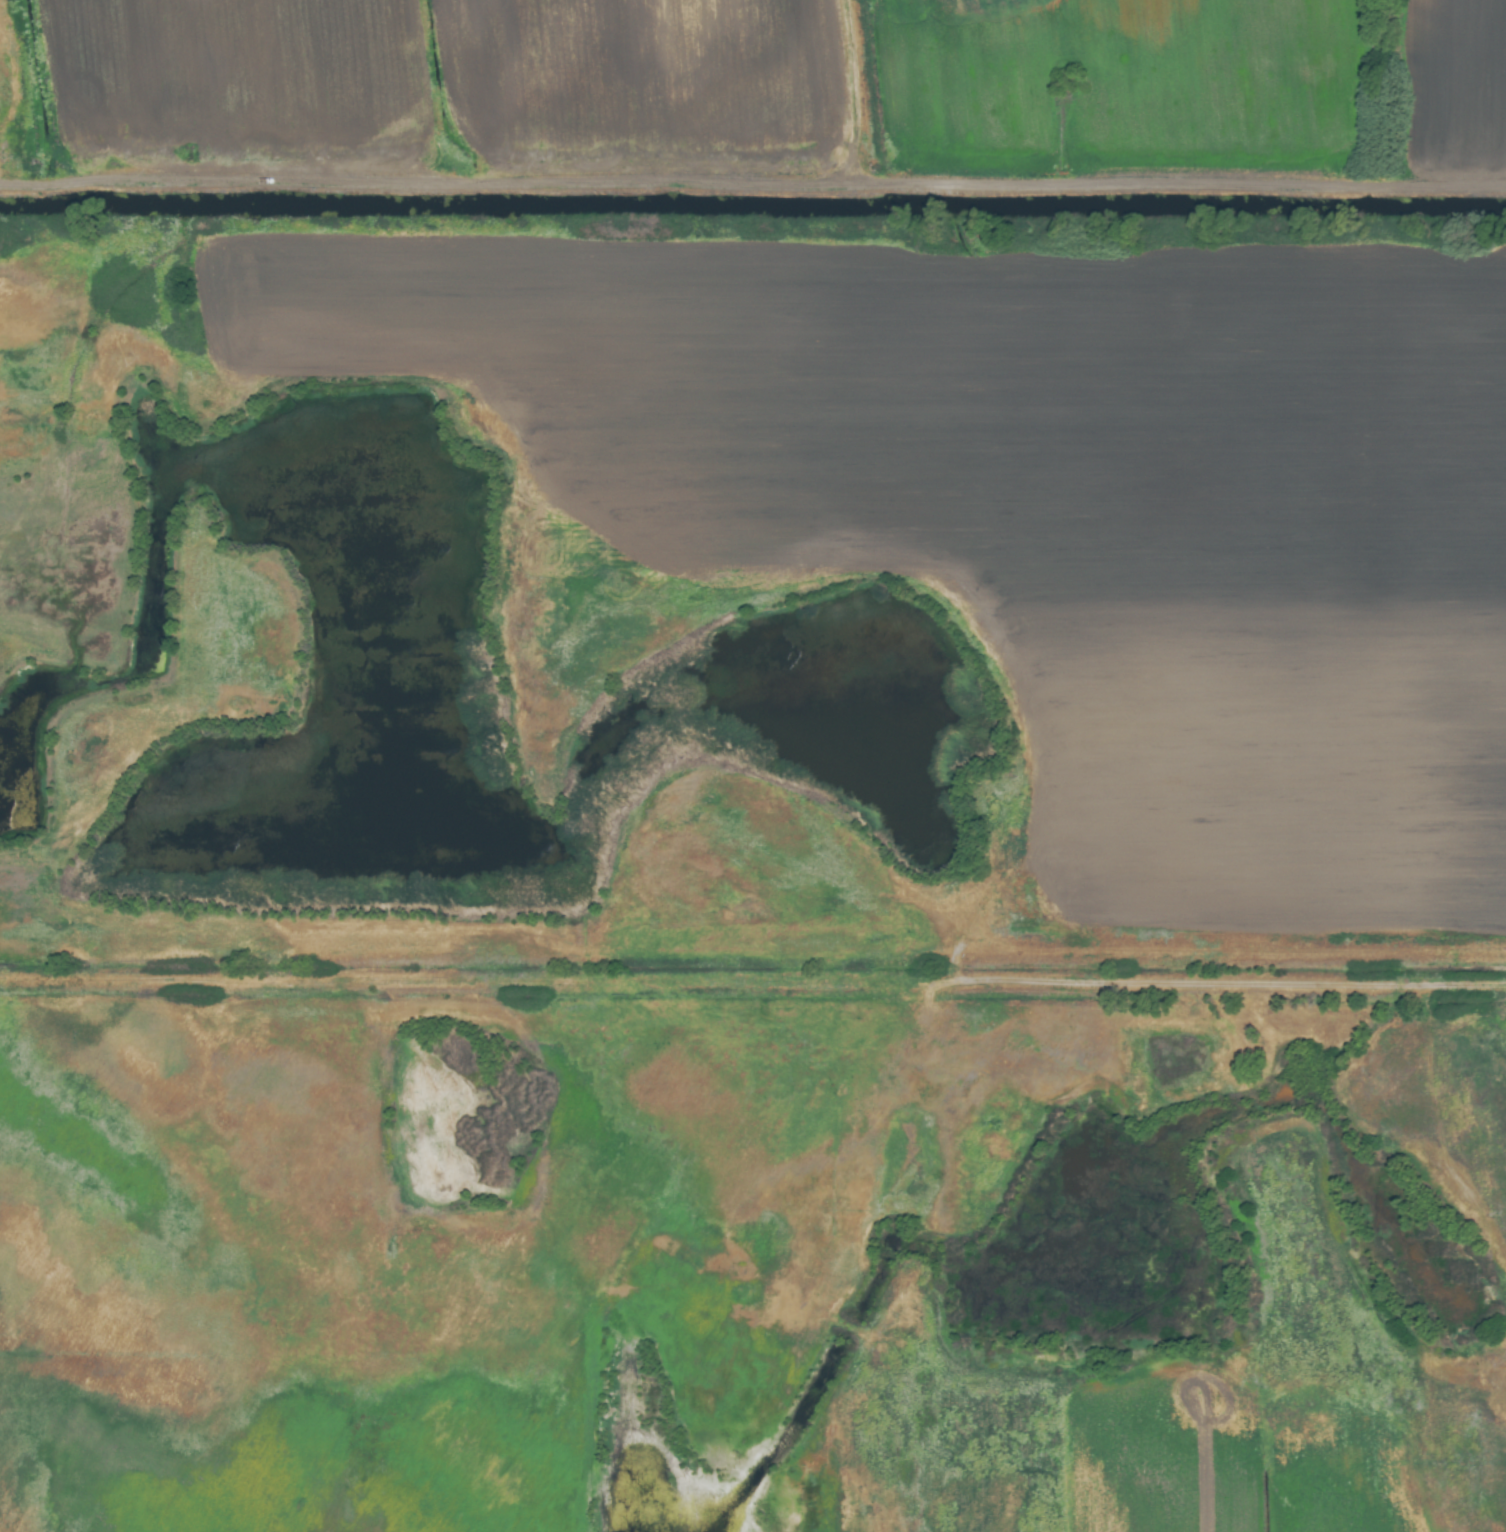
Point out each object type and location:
crop: (753, 766)

